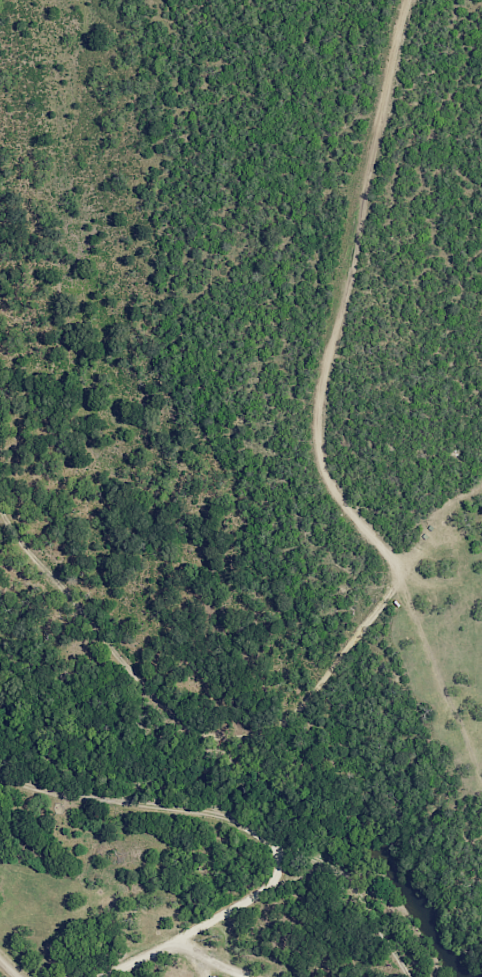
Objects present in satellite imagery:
road: (392, 569)
road: (255, 836)
road: (213, 958)
road: (6, 968)
building: (214, 976)

